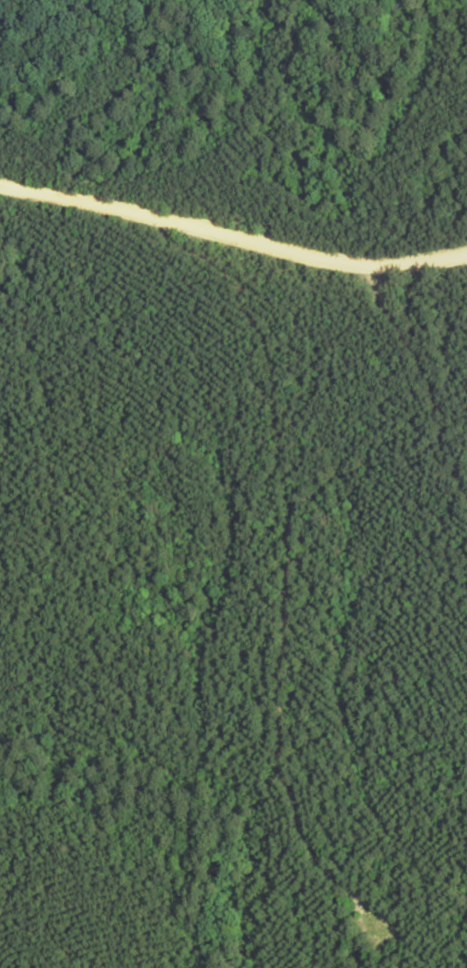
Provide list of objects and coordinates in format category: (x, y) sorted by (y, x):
road: (232, 237)

